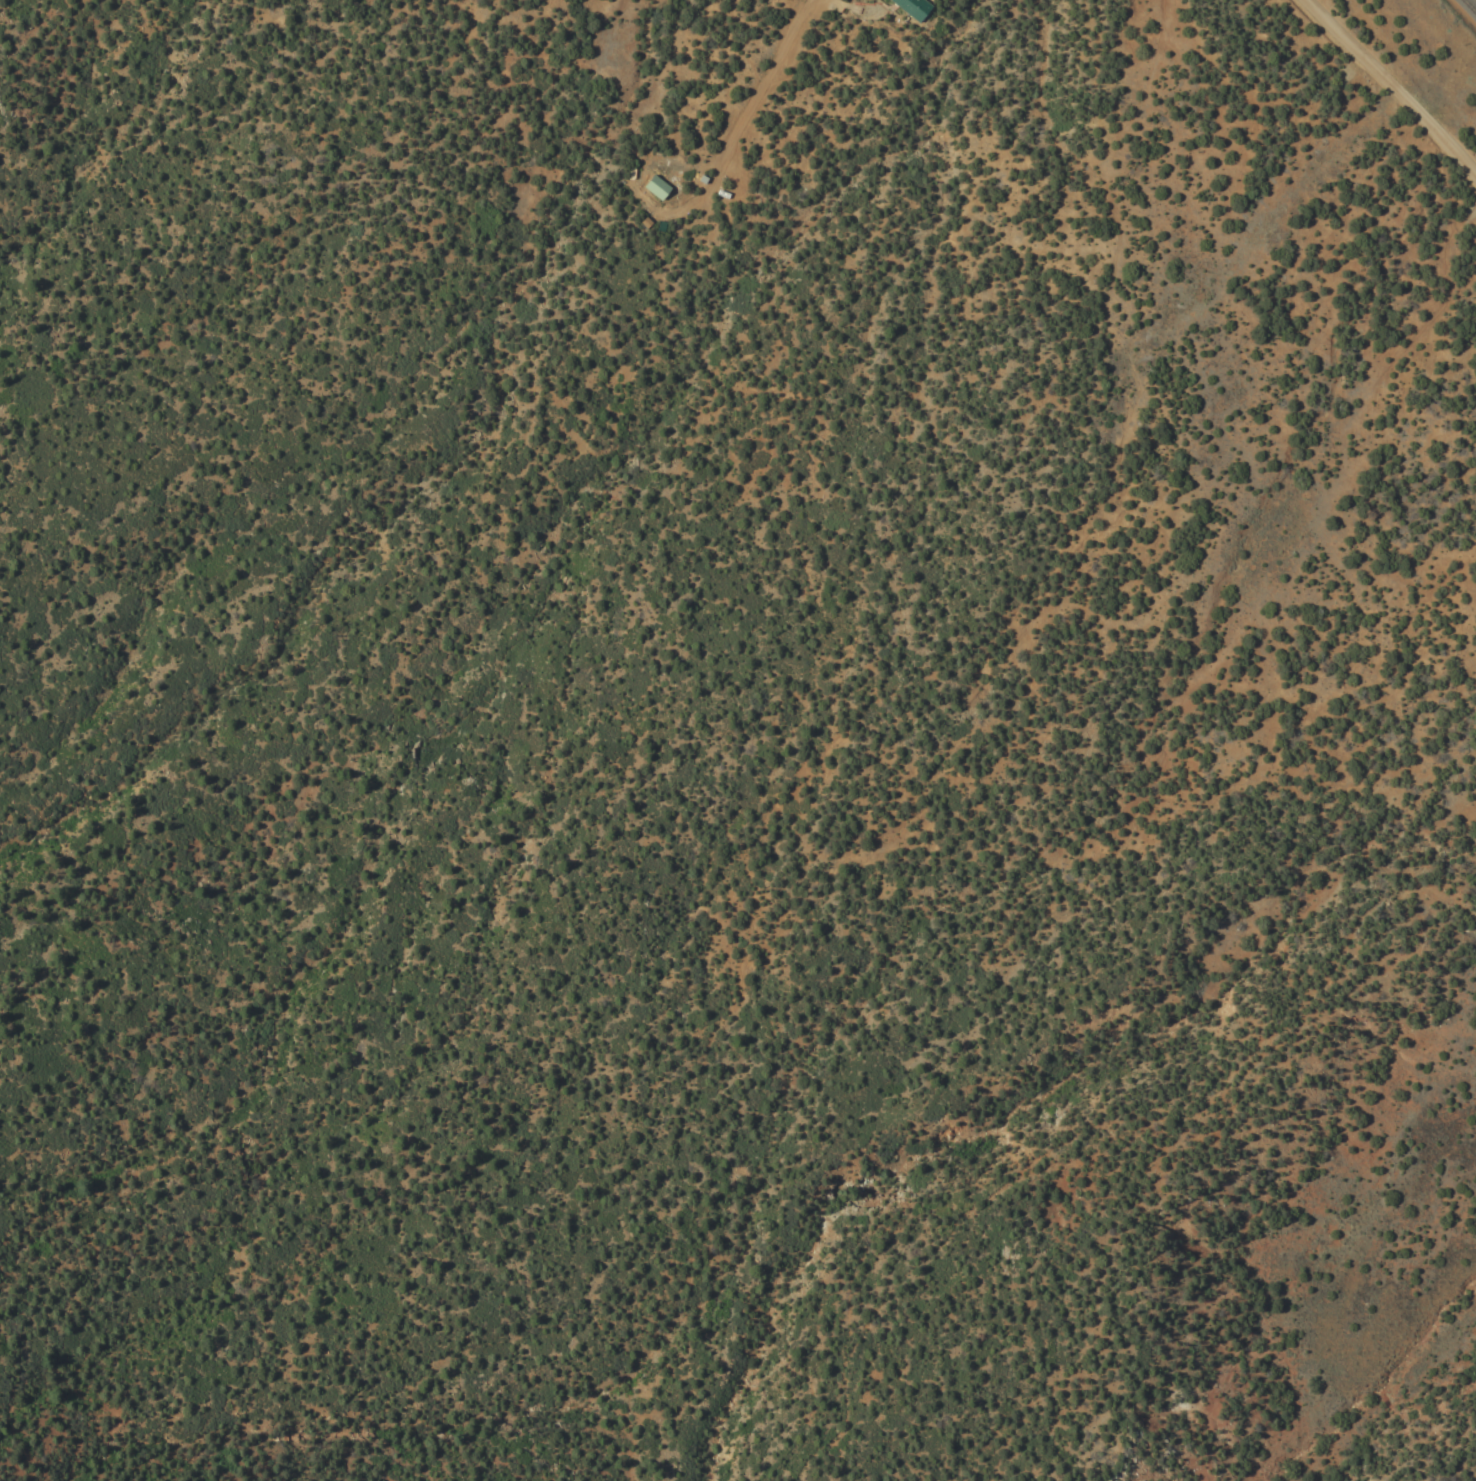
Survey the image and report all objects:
railway: (1468, 7)
road: (1397, 81)

